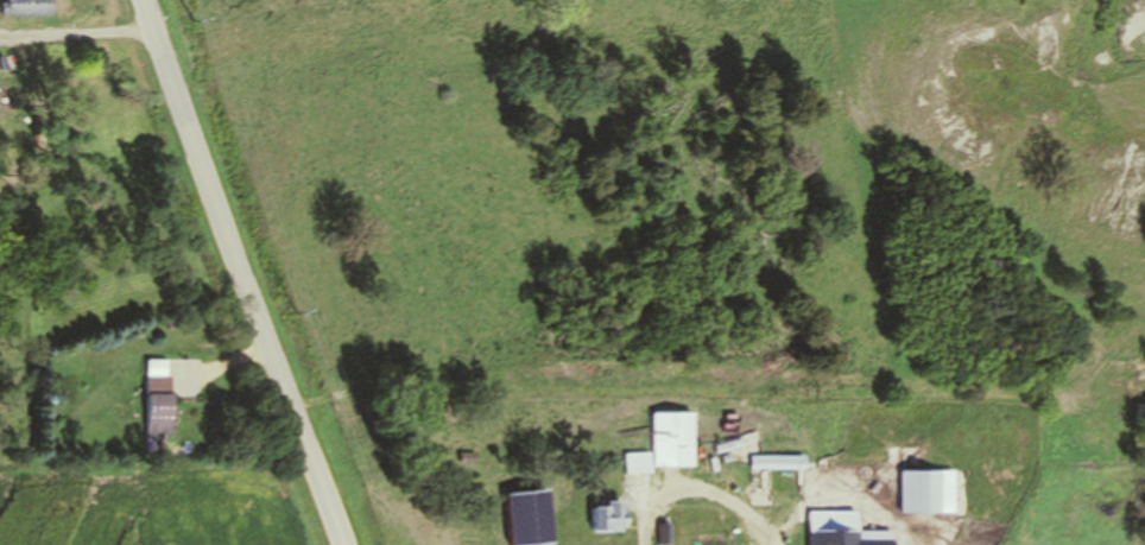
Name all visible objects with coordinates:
building: (29, 8)
road: (240, 274)
building: (160, 399)
building: (678, 443)
building: (780, 462)
building: (639, 463)
building: (930, 493)
road: (701, 498)
building: (609, 519)
building: (846, 531)

